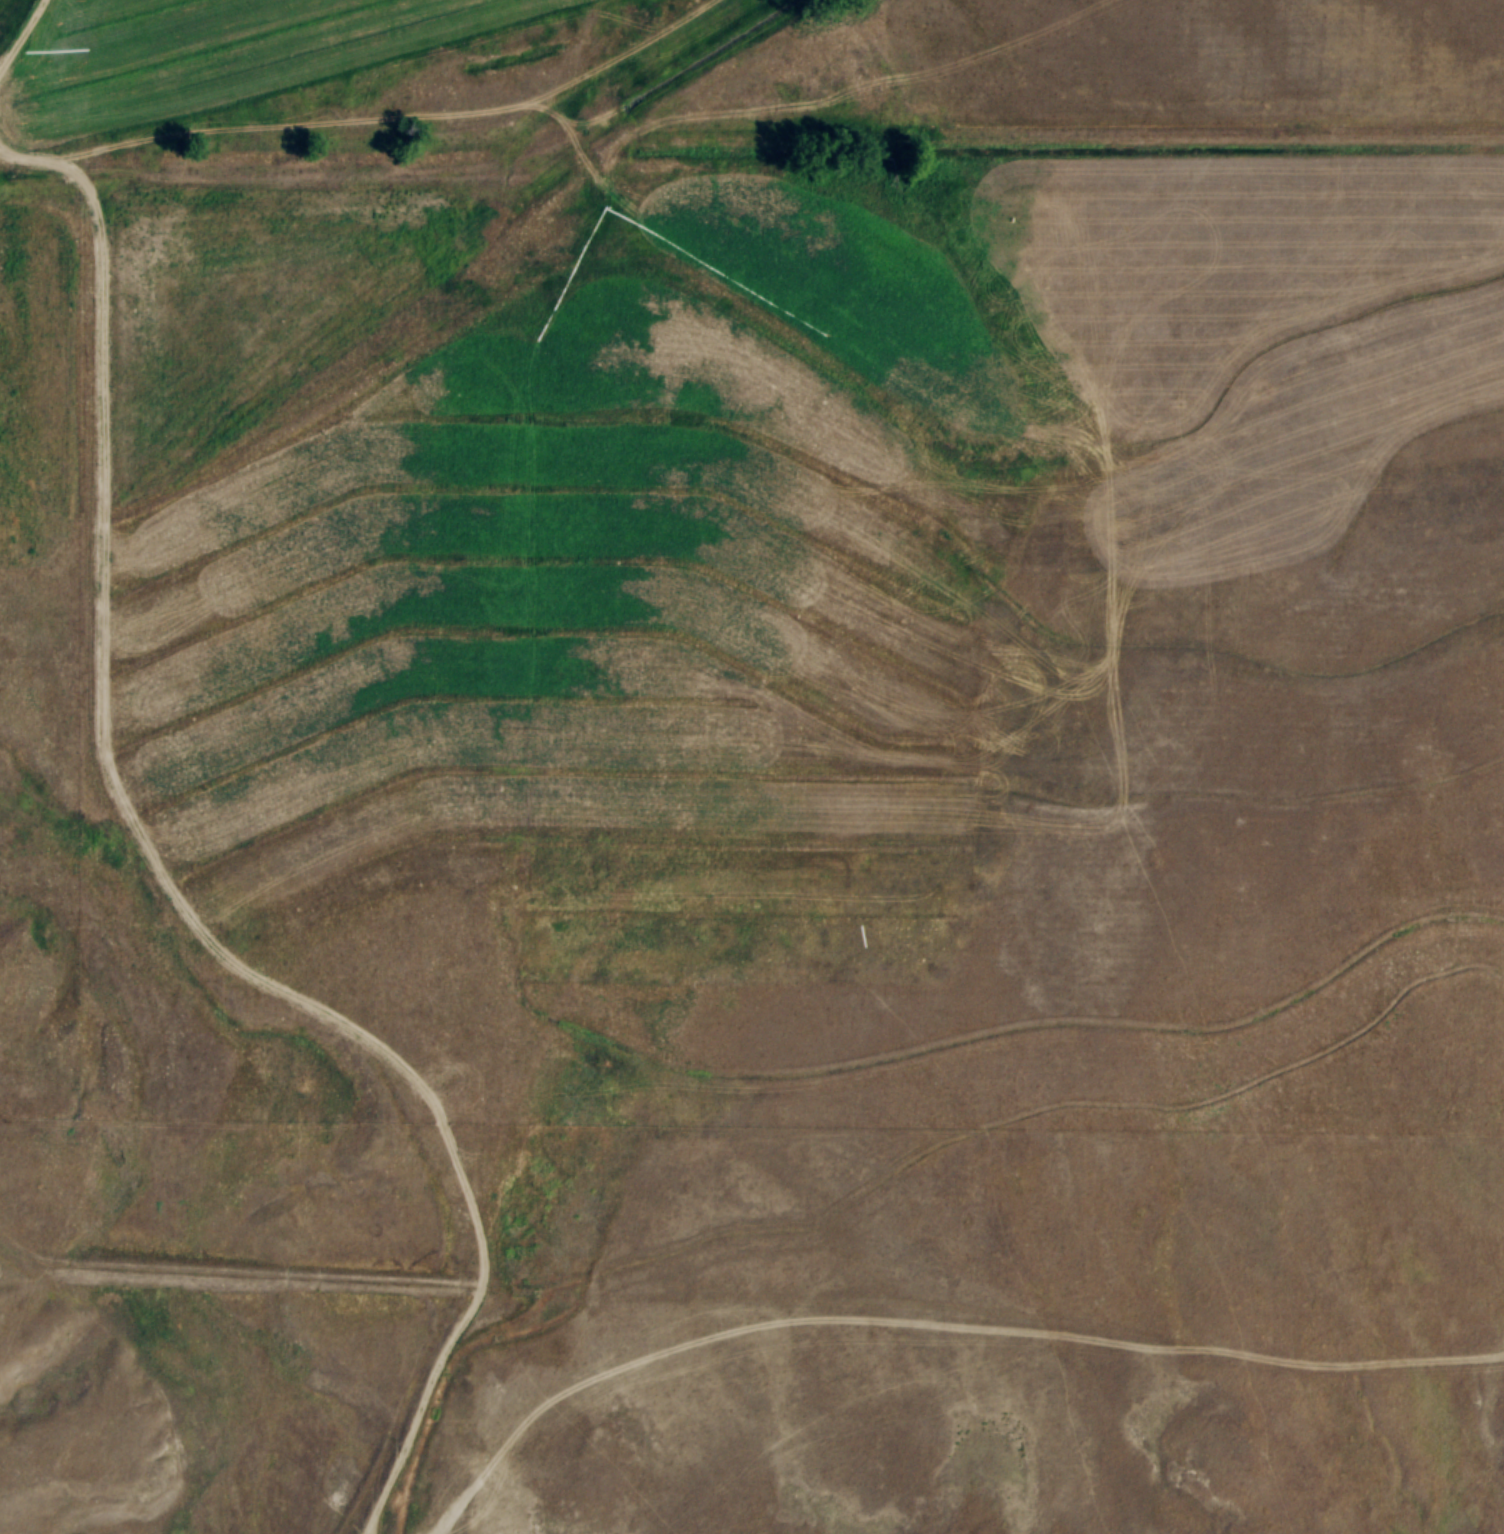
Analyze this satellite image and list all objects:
road: (22, 38)

